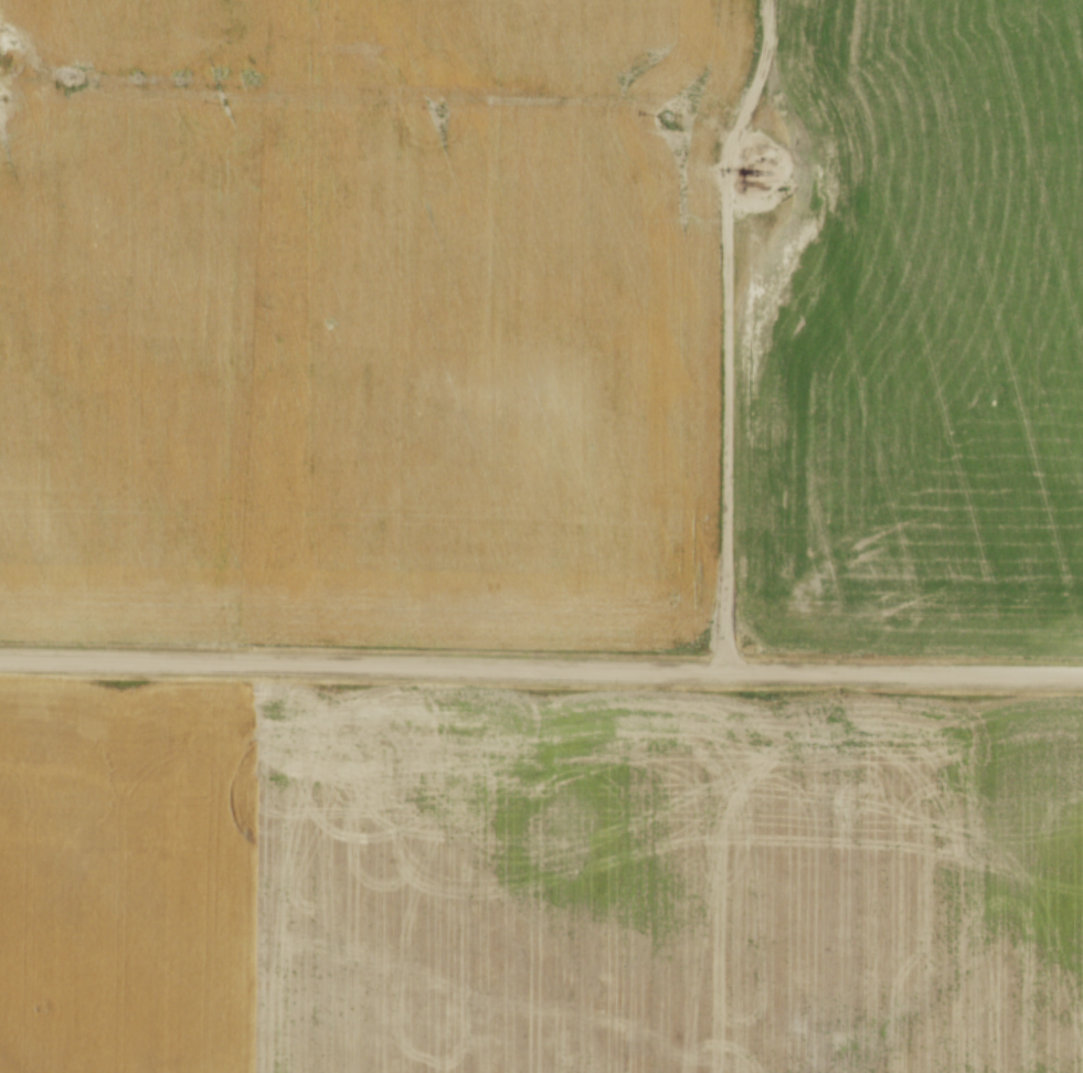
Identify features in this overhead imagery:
road: (396, 95)
petroleum well: (750, 169)
crop: (363, 318)
road: (725, 329)
crop: (916, 336)
road: (541, 667)
crop: (537, 878)

